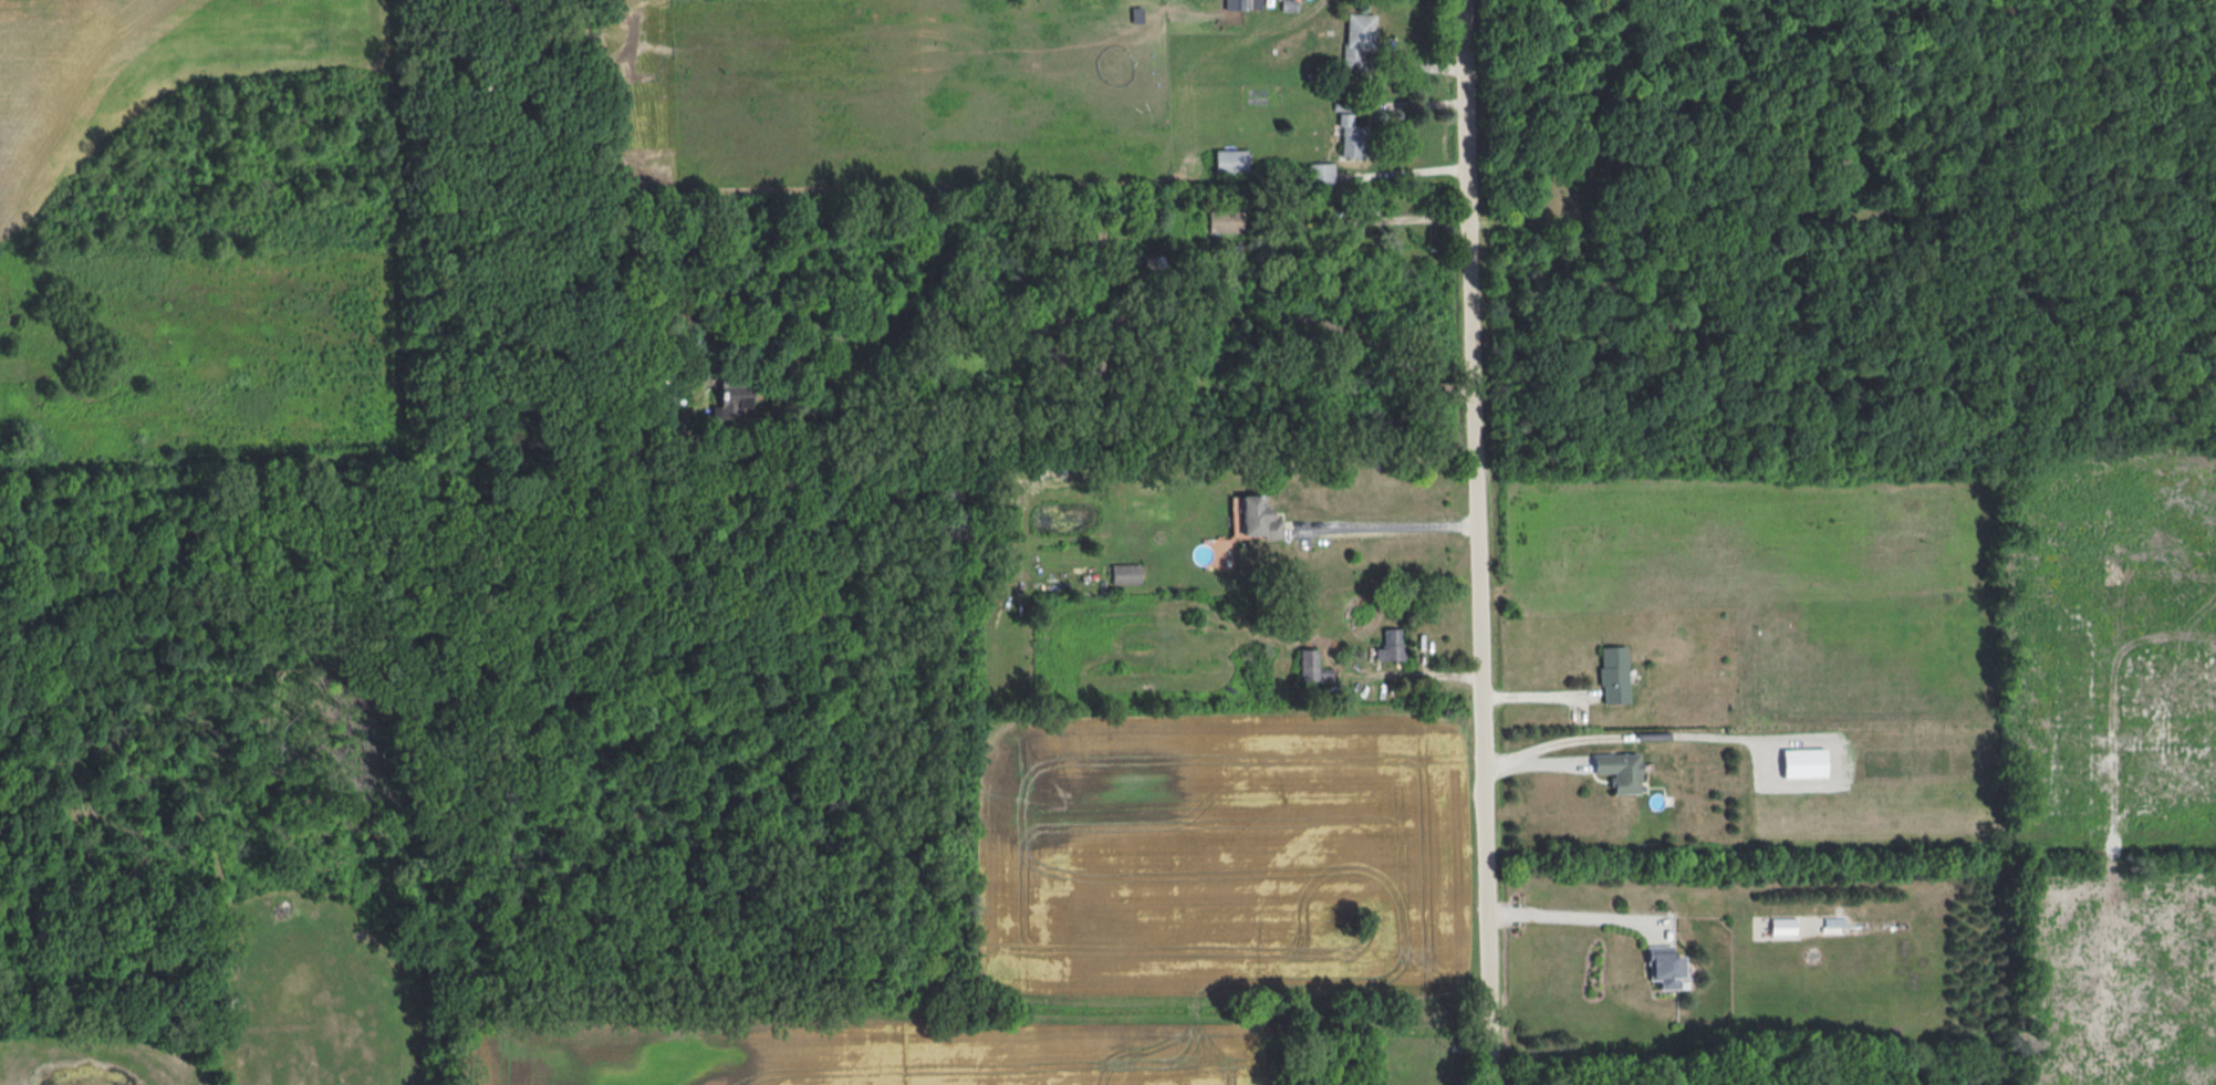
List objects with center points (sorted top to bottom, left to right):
building: (1236, 4)
building: (1357, 39)
building: (1350, 137)
building: (1230, 161)
road: (1404, 171)
building: (1321, 176)
building: (1226, 221)
road: (1090, 322)
building: (731, 400)
building: (1257, 518)
road: (1384, 525)
road: (1477, 542)
building: (1125, 574)
building: (1391, 645)
building: (1312, 667)
building: (1613, 674)
building: (1803, 763)
building: (1619, 771)
road: (1028, 783)
road: (877, 808)
road: (1572, 918)
building: (1782, 927)
building: (1664, 966)

